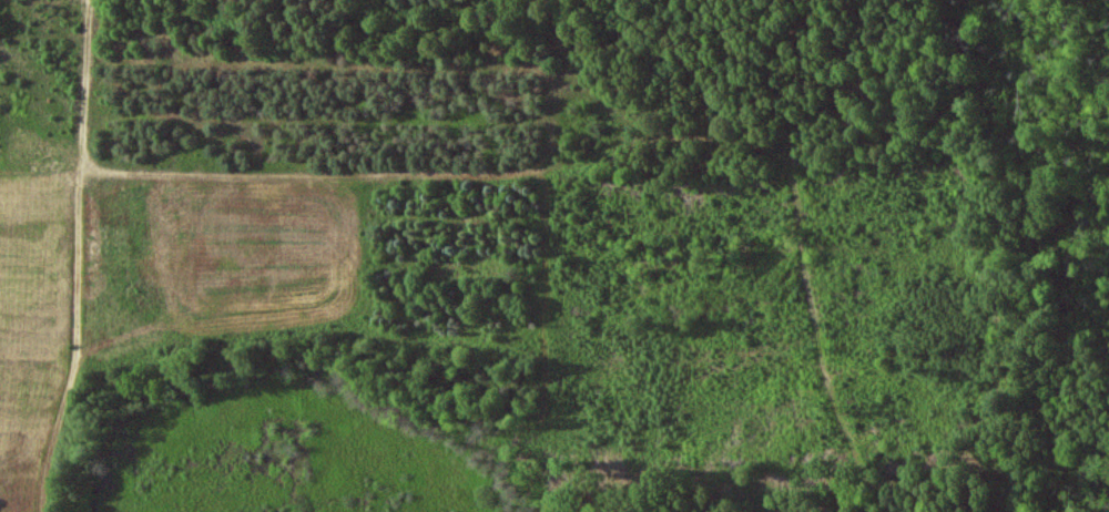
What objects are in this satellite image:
road: (79, 256)

